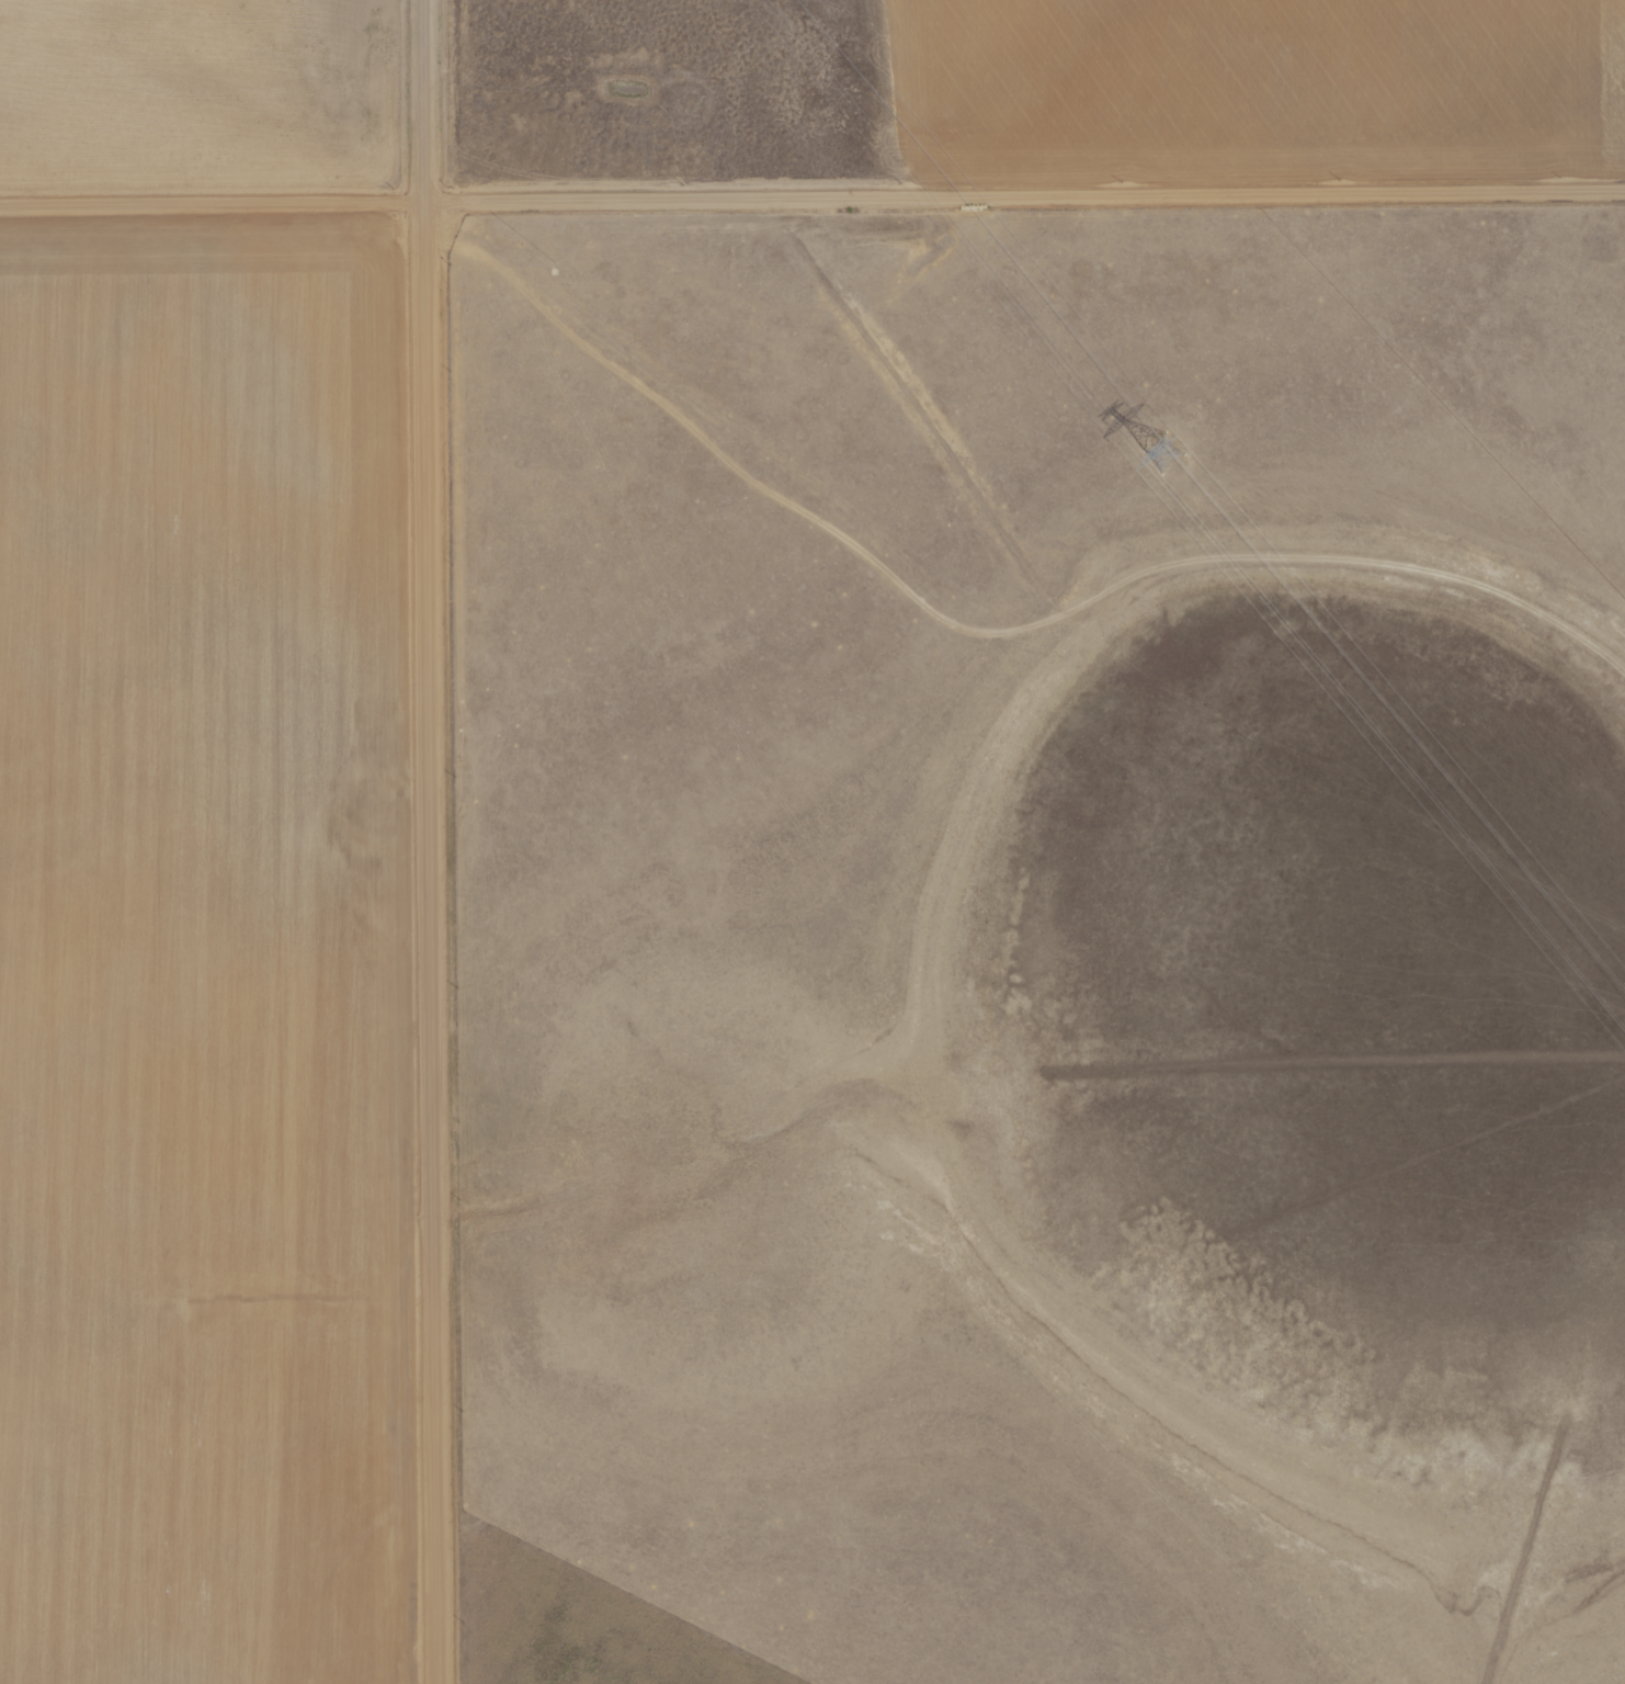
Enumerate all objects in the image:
road: (813, 200)
power tower: (1162, 455)
road: (429, 841)

